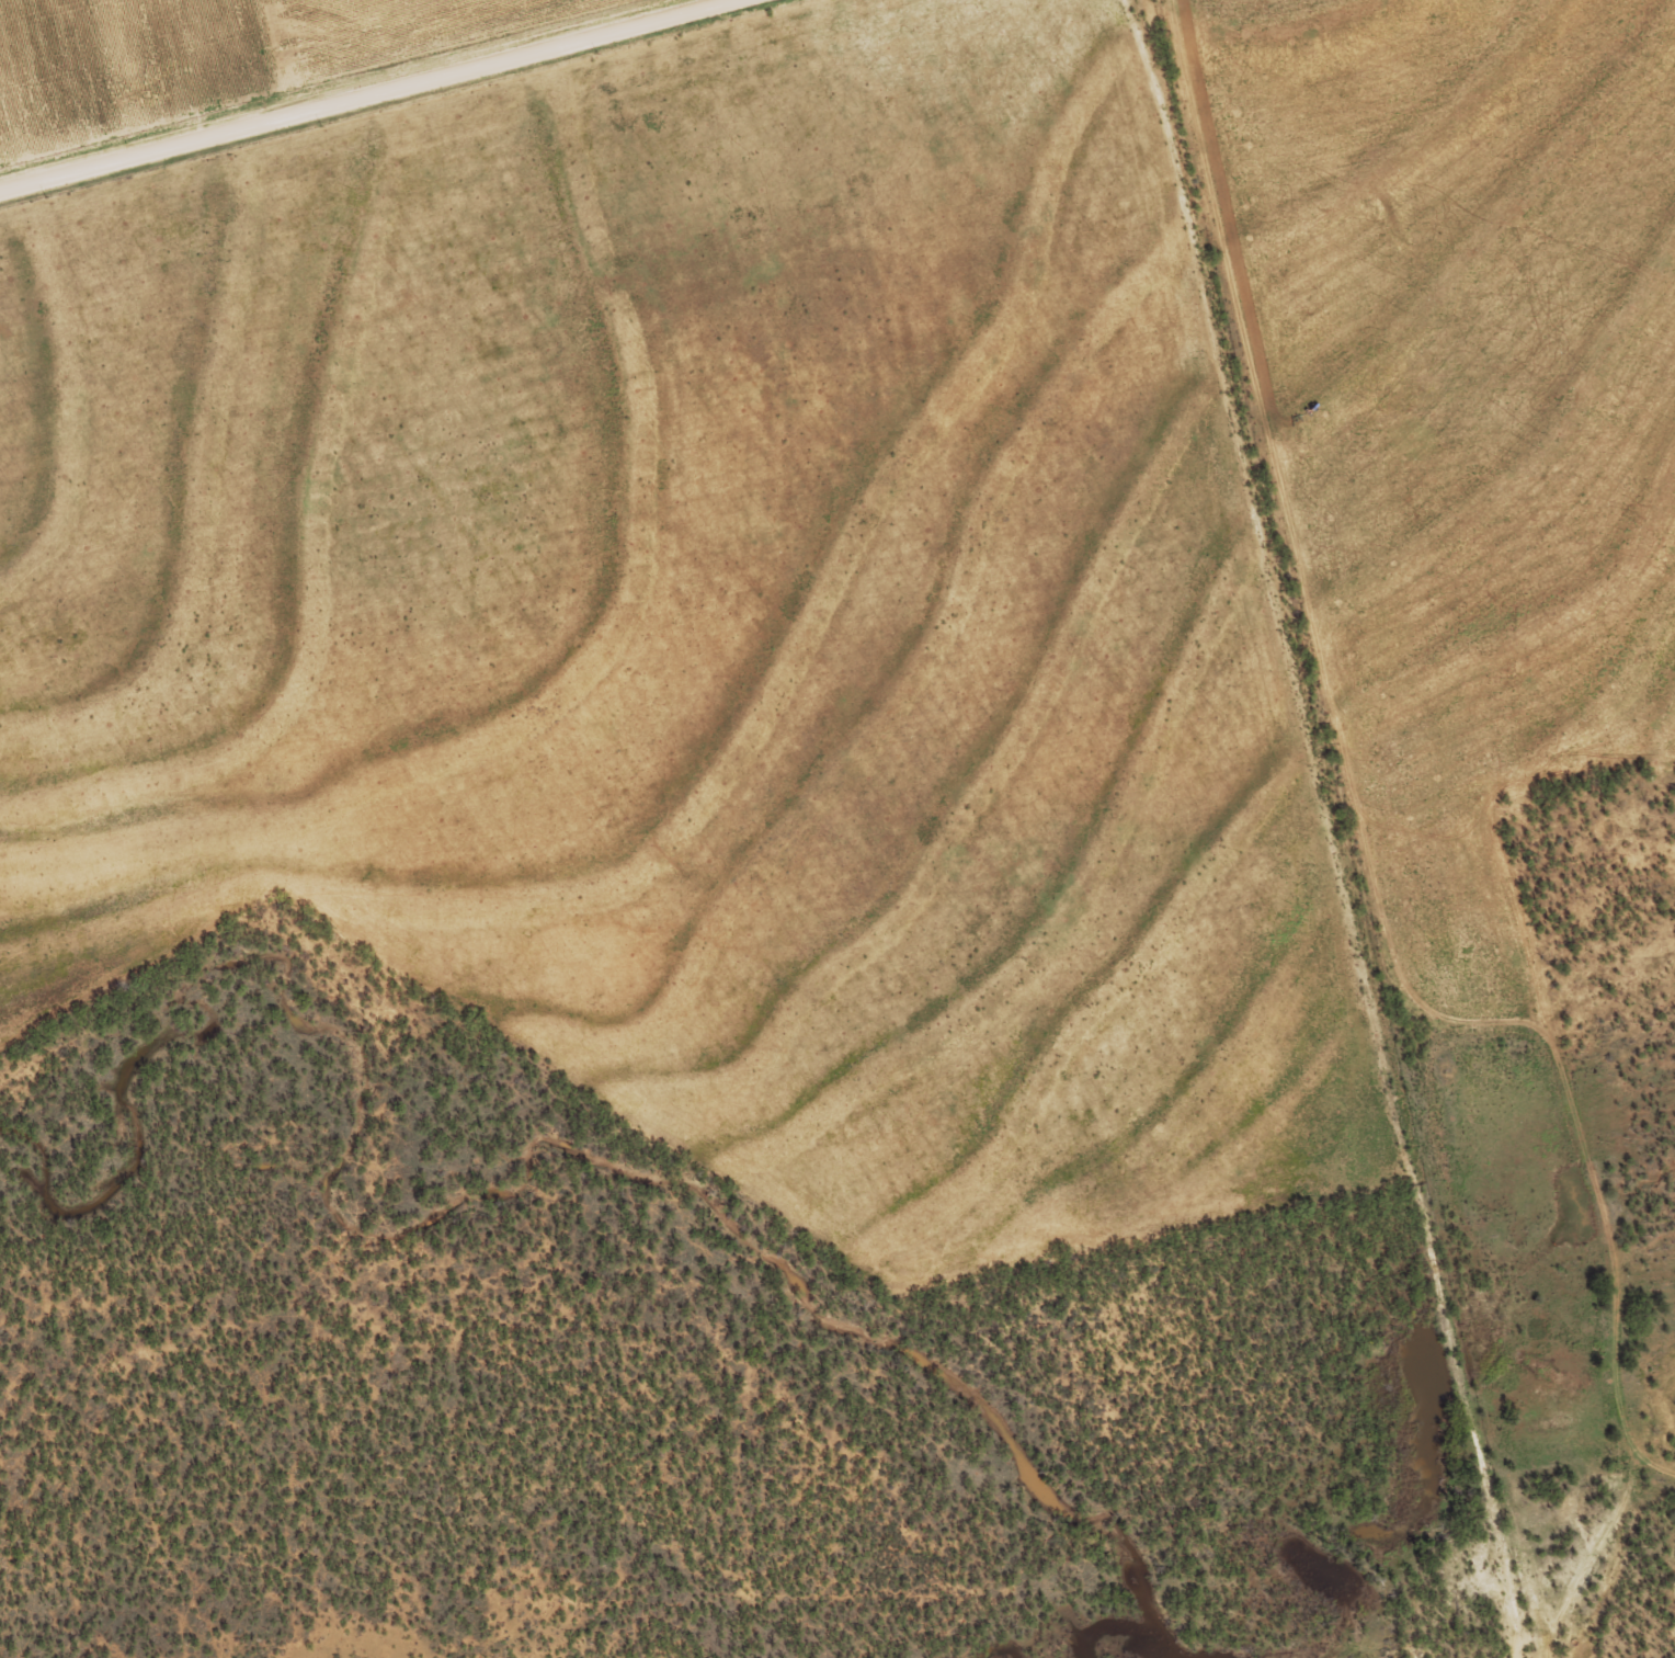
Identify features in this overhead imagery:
road: (434, 111)

